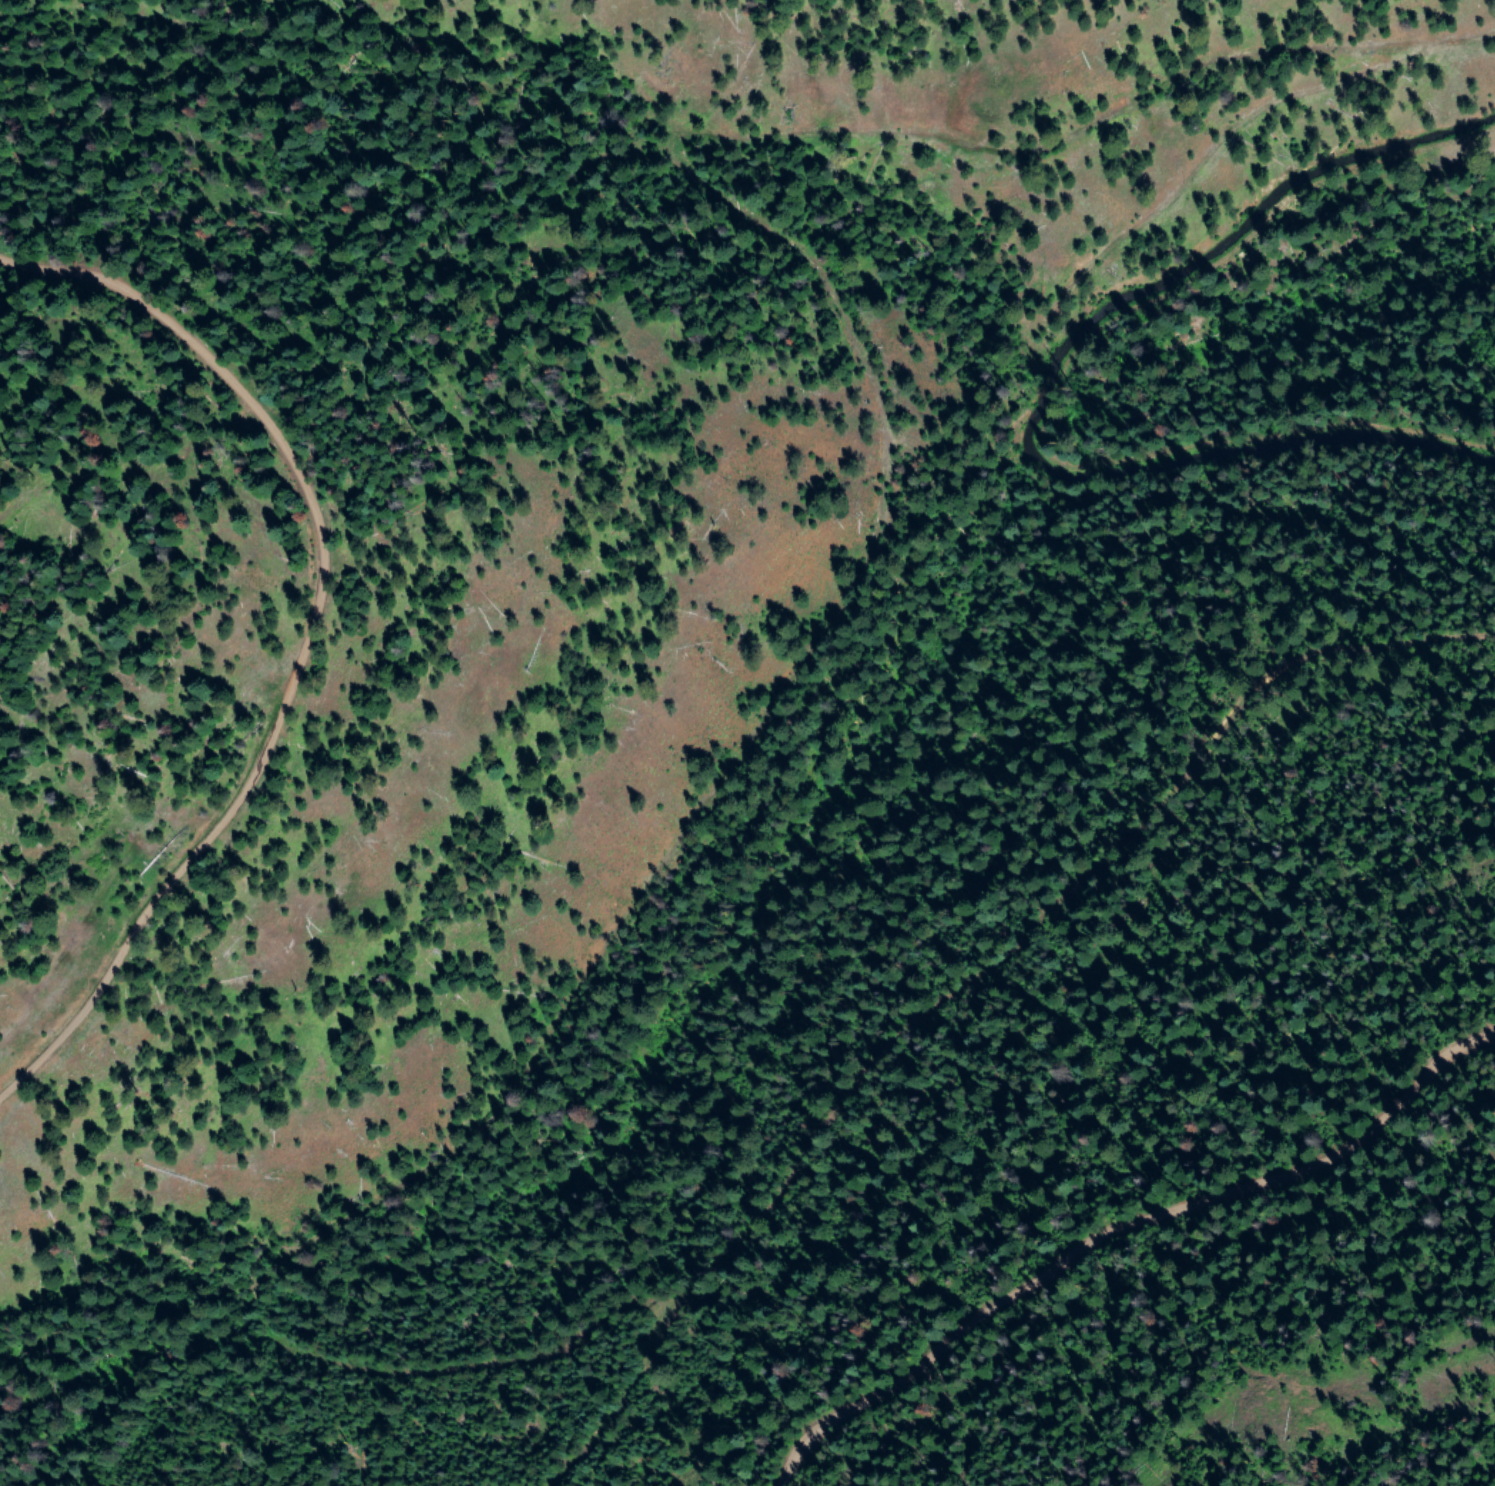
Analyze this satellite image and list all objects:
road: (1300, 144)
road: (334, 623)
road: (750, 787)
road: (1103, 1221)

